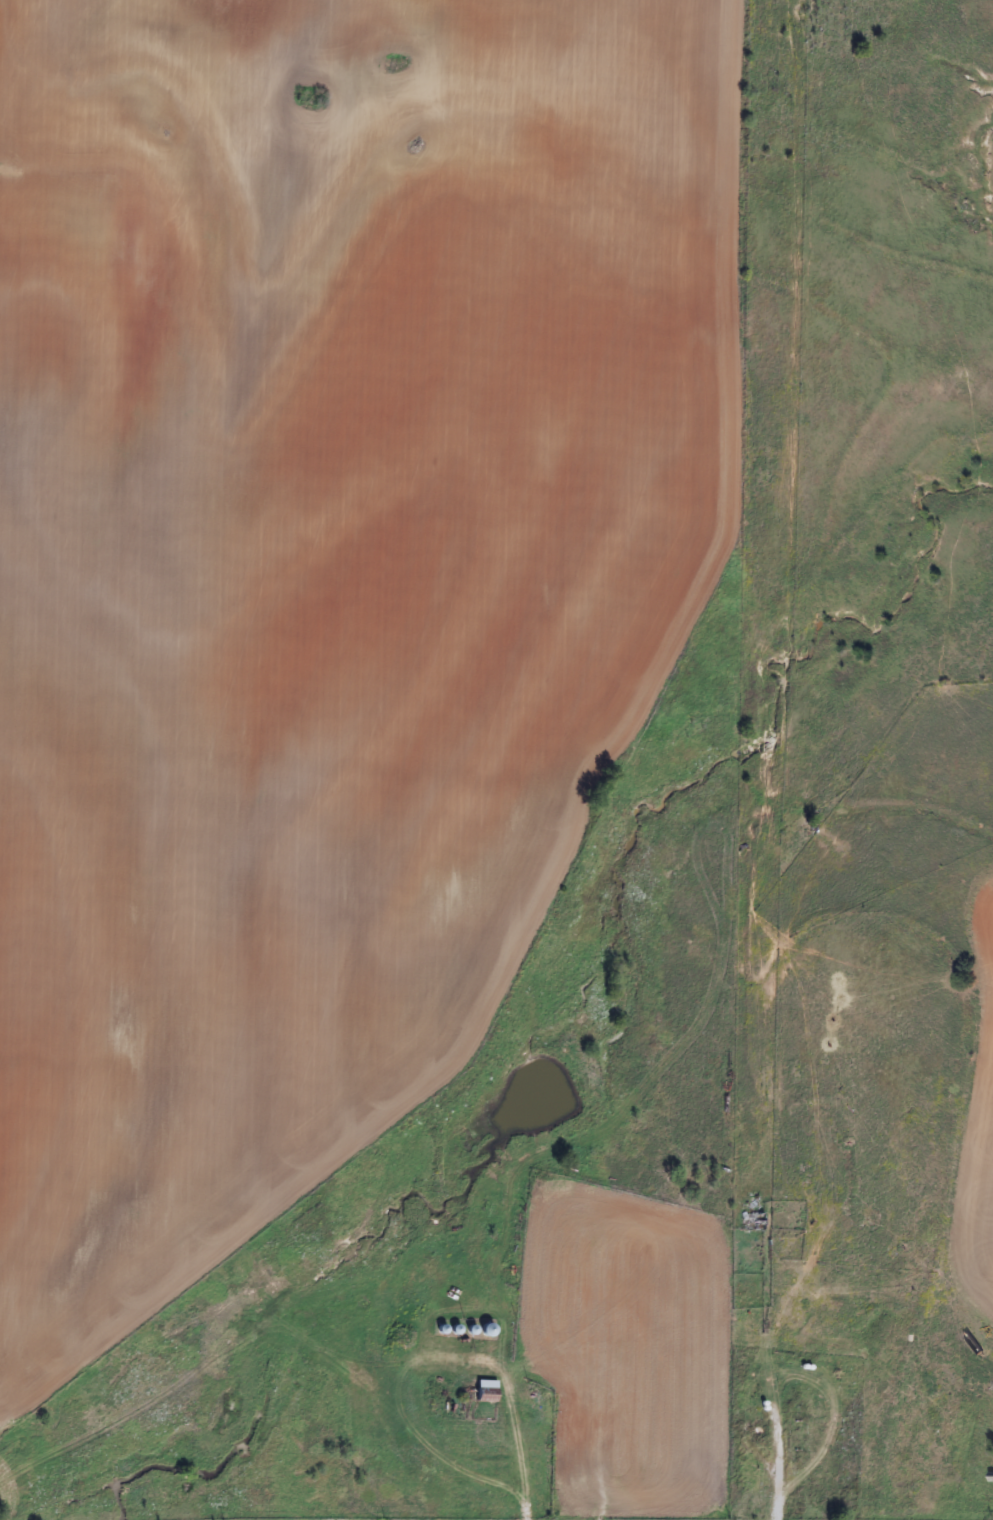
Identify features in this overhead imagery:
building: (750, 1222)
building: (484, 1330)
building: (484, 1391)
building: (576, 1465)

